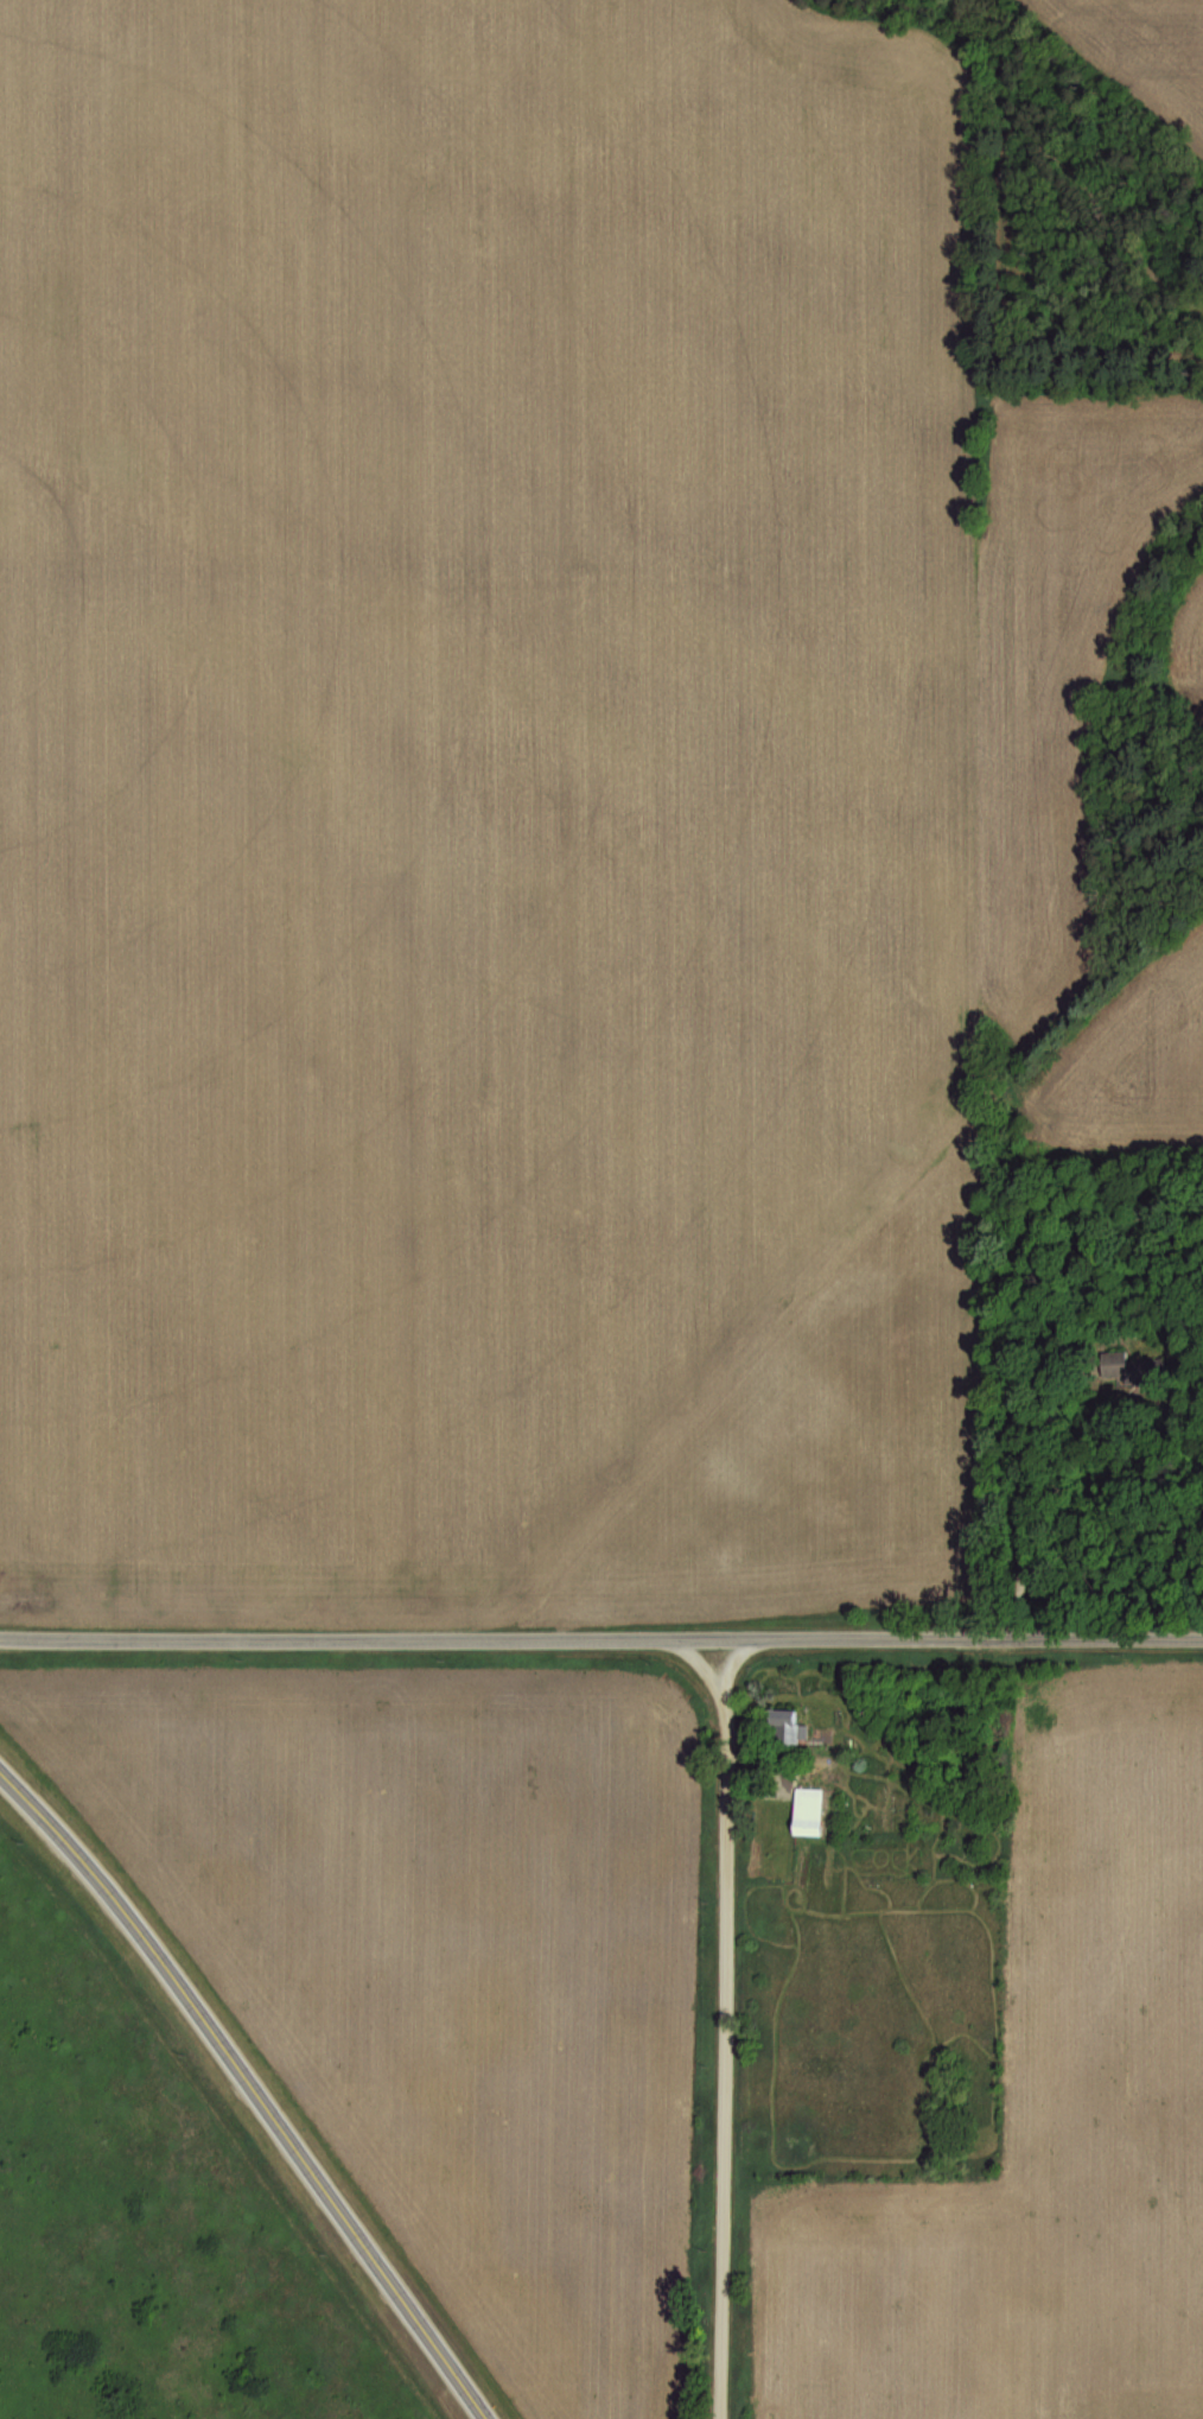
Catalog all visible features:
crop: (1148, 39)
crop: (491, 755)
crop: (1131, 1073)
building: (1109, 1360)
building: (1142, 1367)
road: (1017, 1505)
road: (601, 1639)
building: (790, 1726)
building: (813, 1810)
crop: (438, 1974)
road: (723, 2028)
road: (248, 2093)

